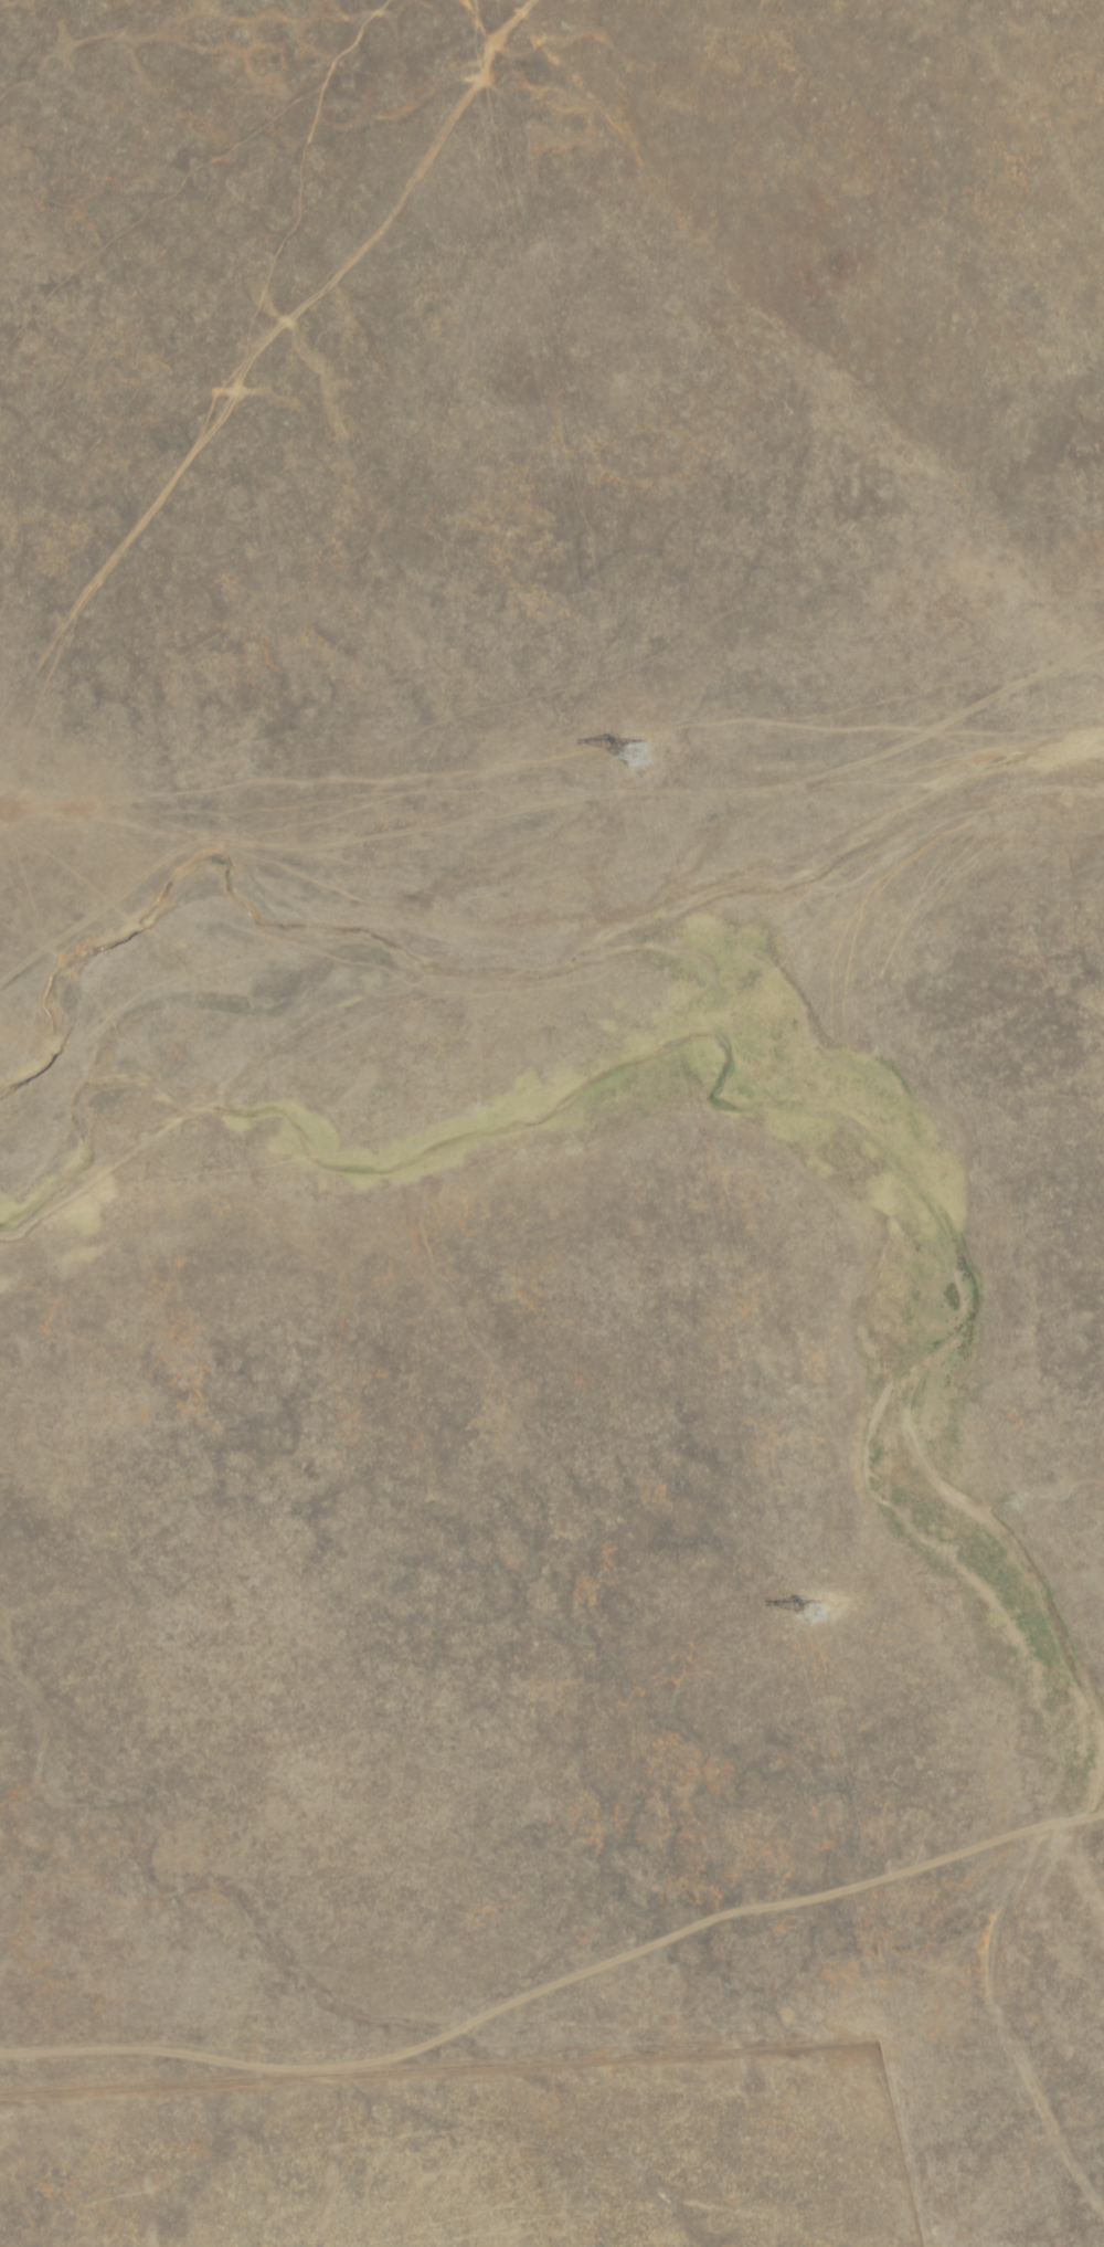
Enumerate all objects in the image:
power tower: (648, 757)
power tower: (825, 1615)

